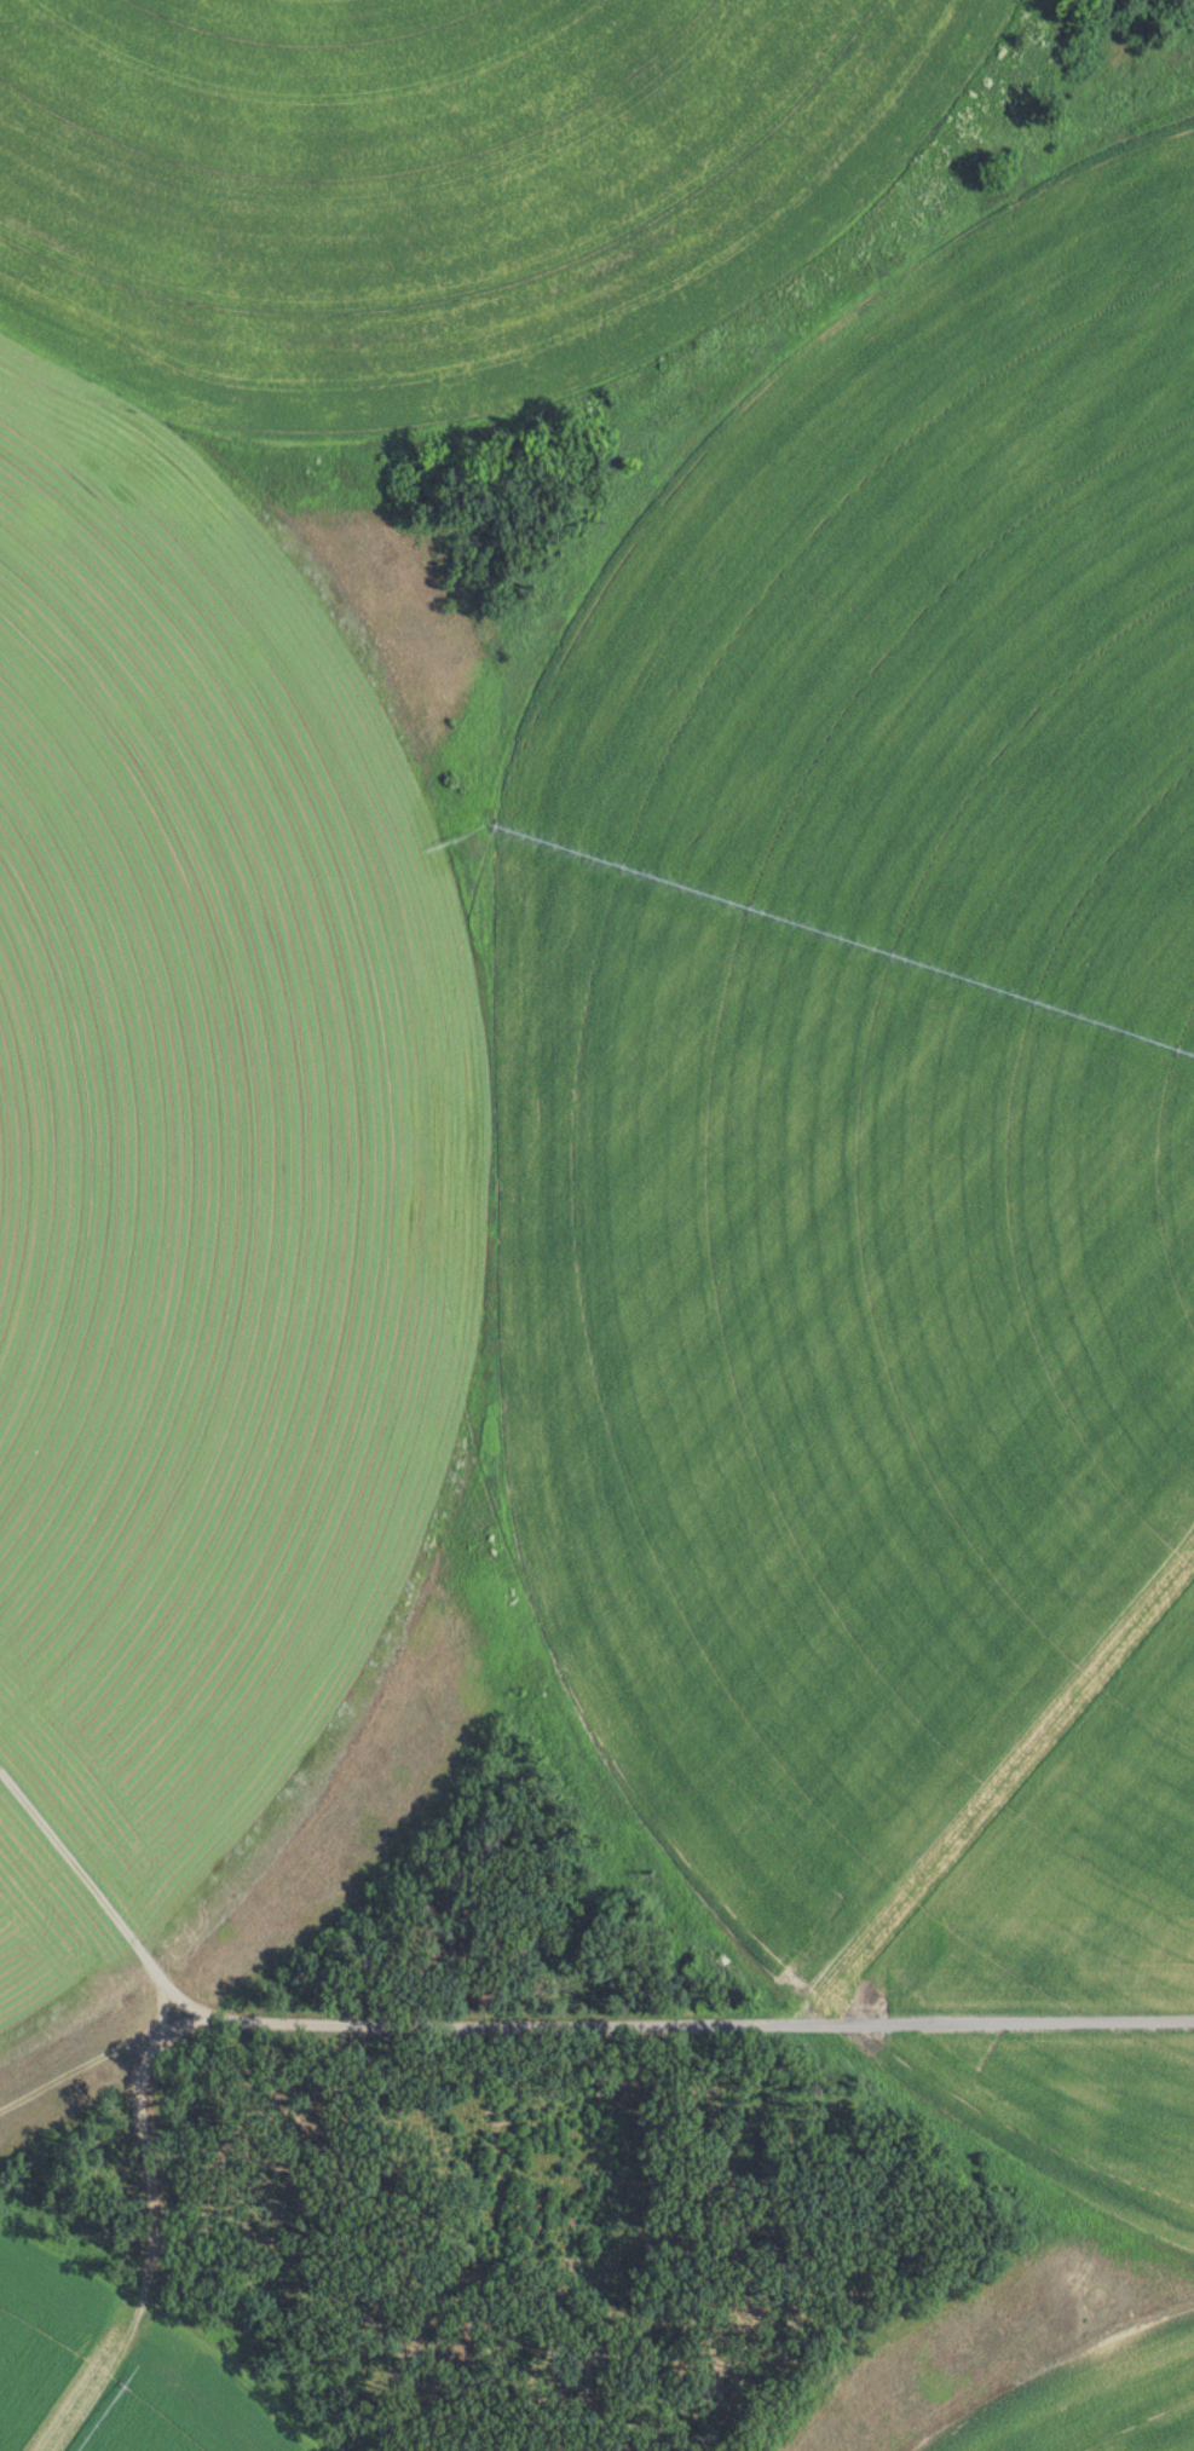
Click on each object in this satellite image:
wastewater plant: (596, 1225)
road: (715, 2022)

